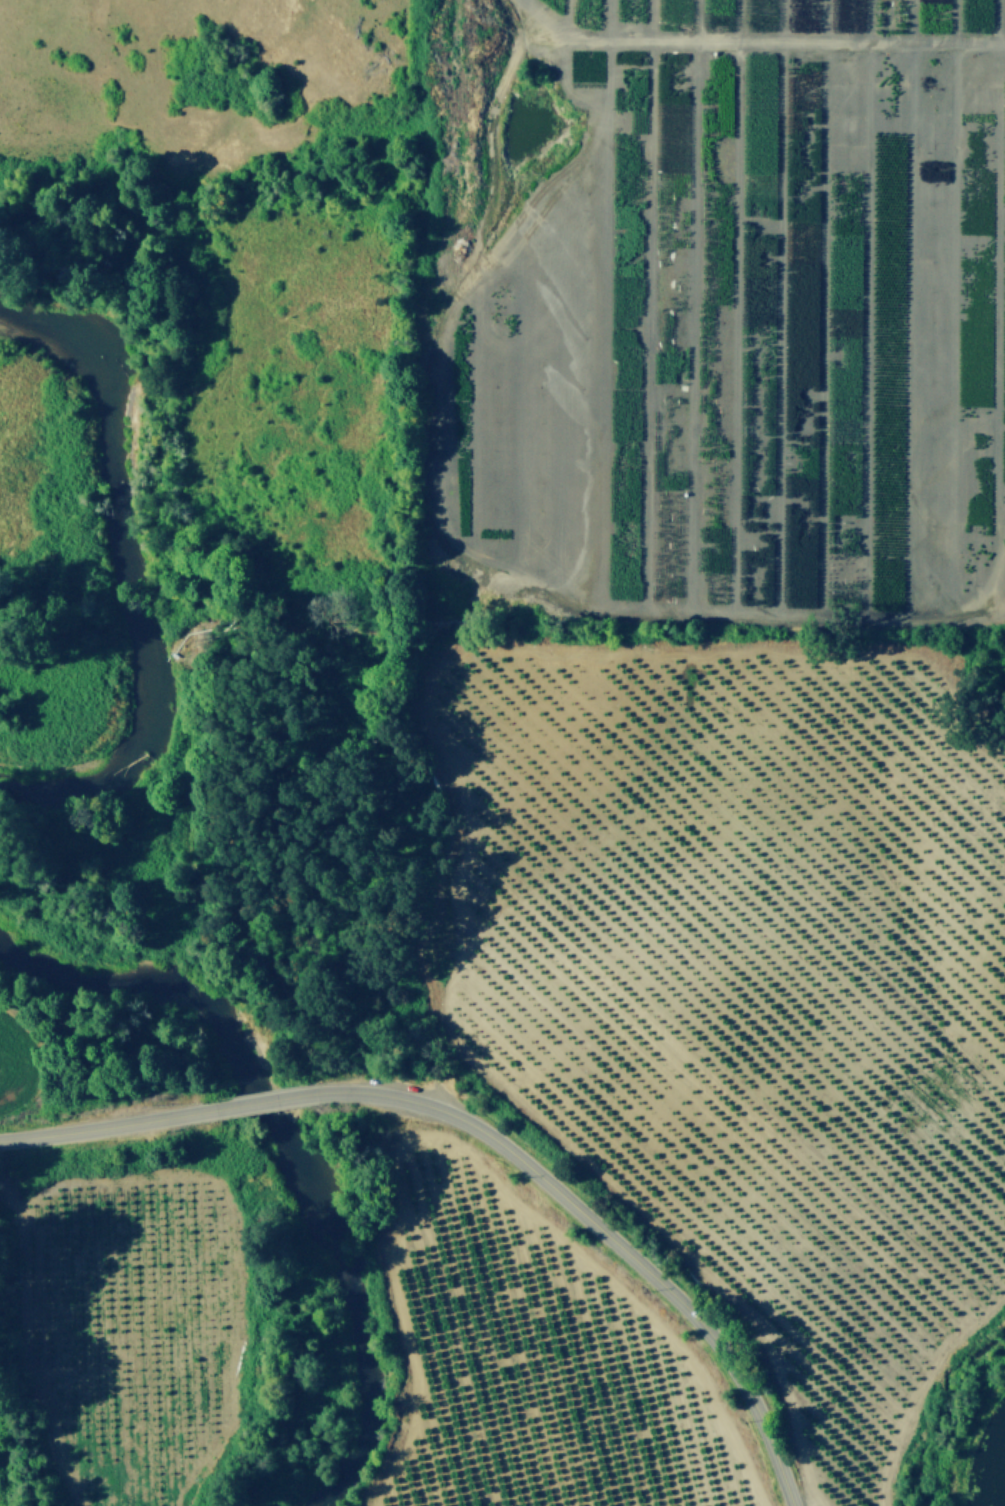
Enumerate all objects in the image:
river: (125, 566)
crop: (3, 1066)
road: (254, 1099)
road: (83, 1127)
river: (292, 1148)
road: (616, 1243)

